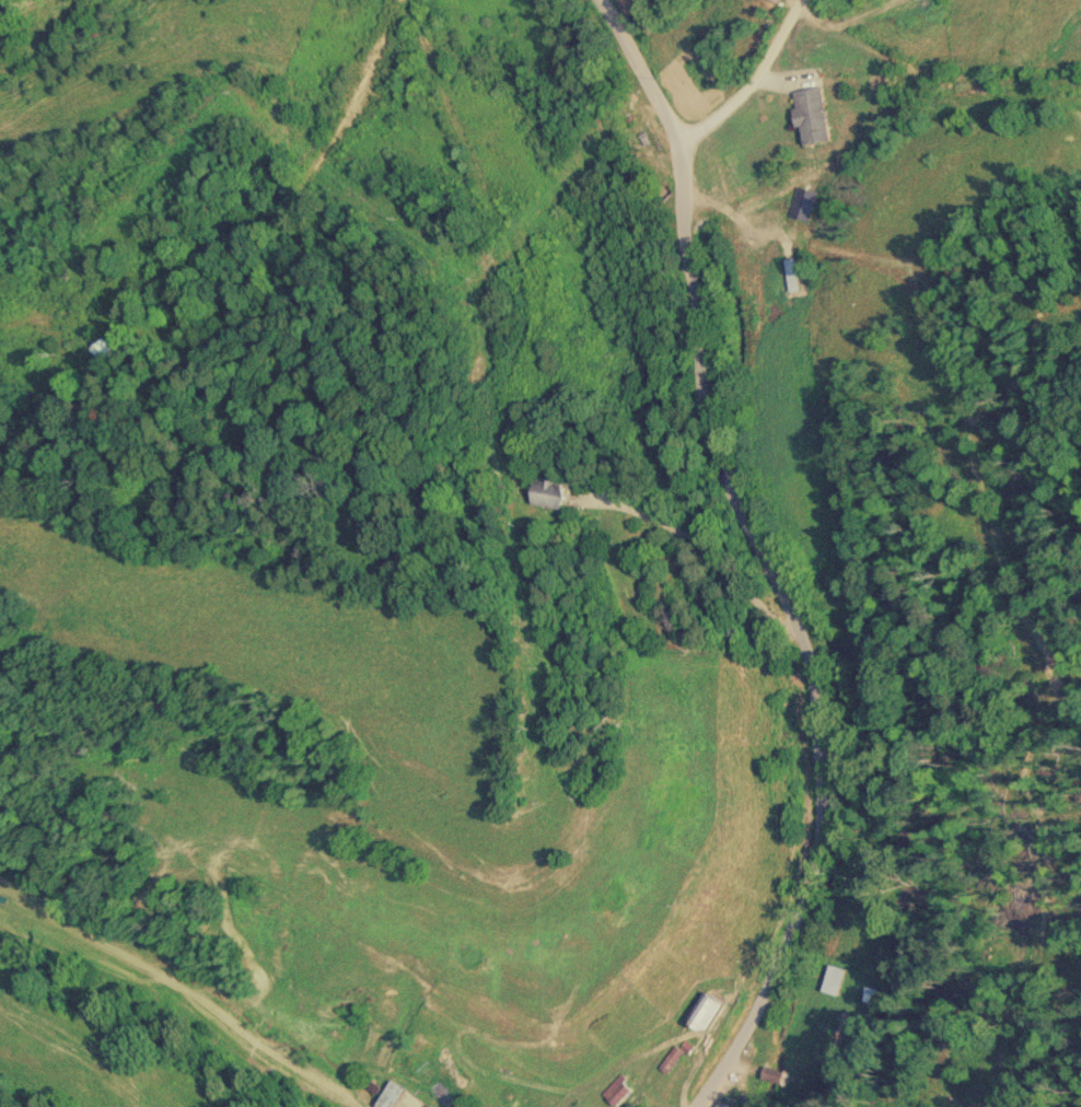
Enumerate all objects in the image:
road: (11, 5)
road: (748, 74)
road: (763, 553)

